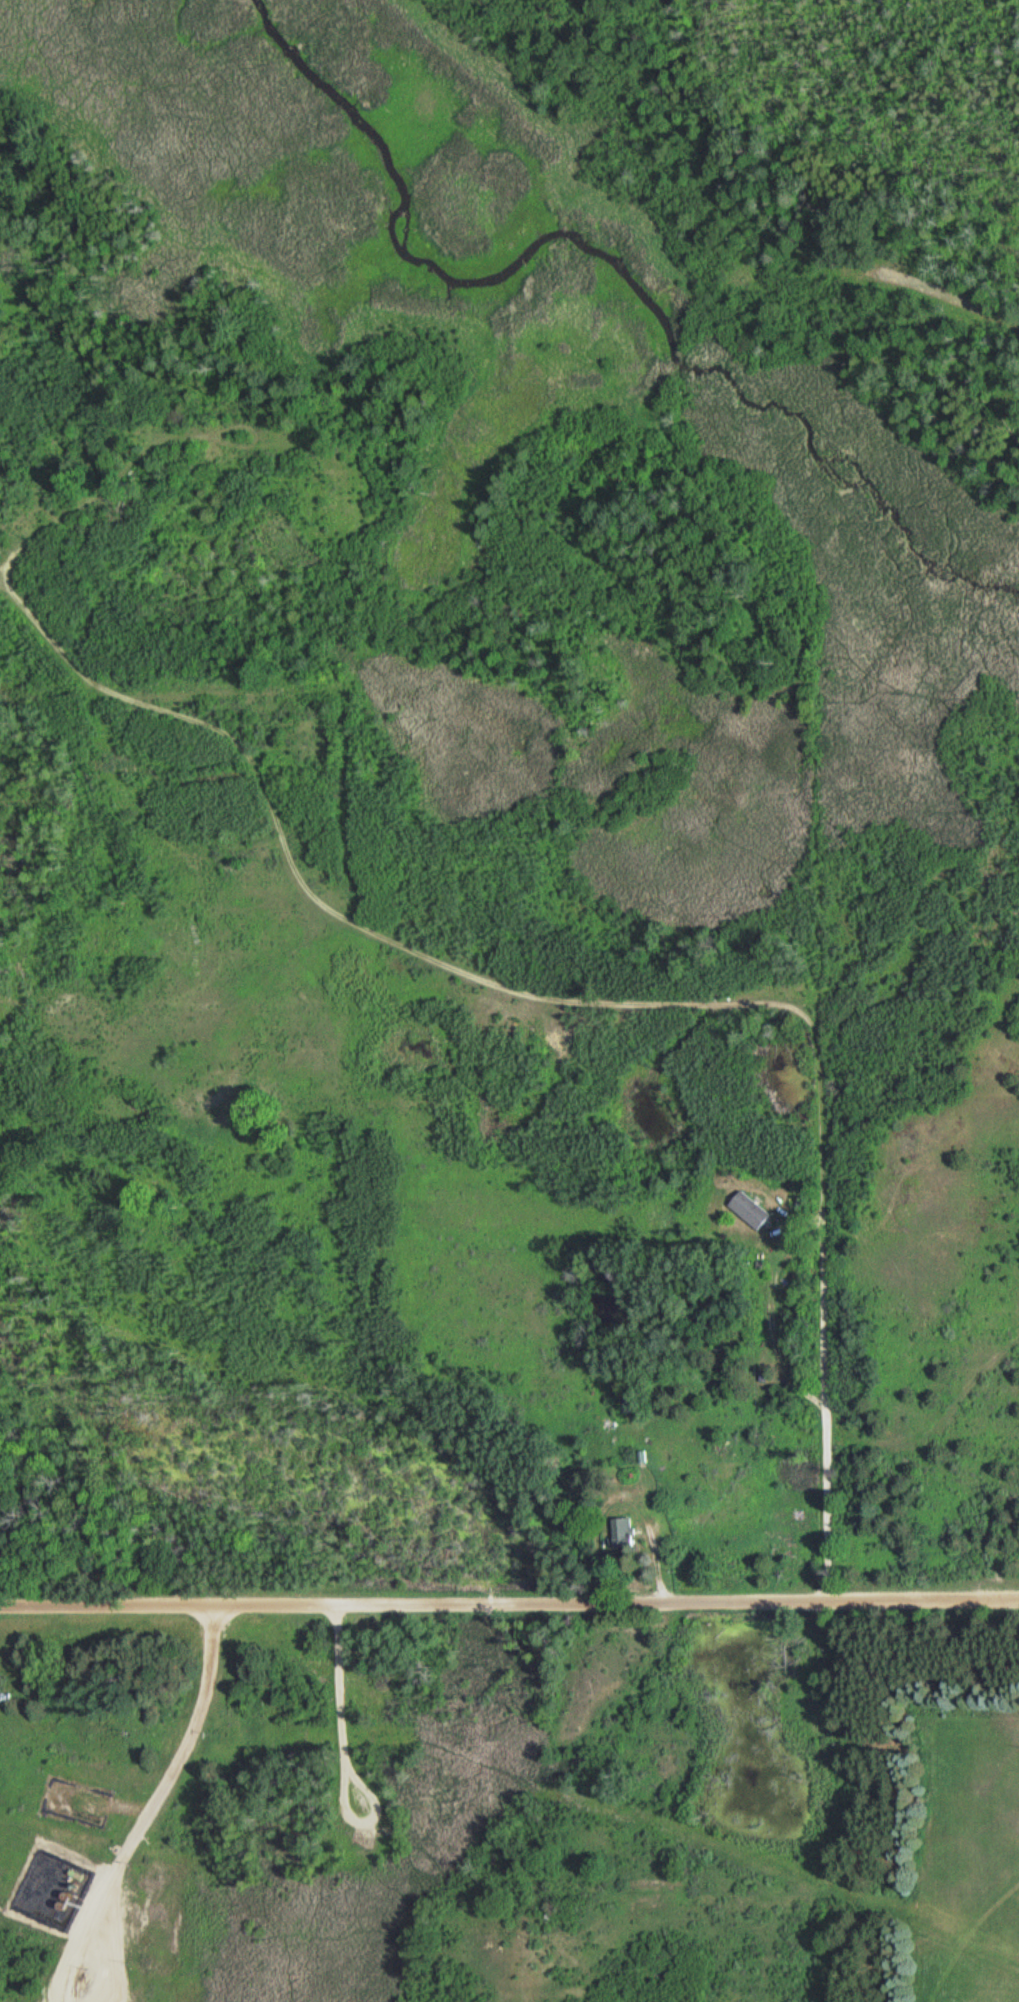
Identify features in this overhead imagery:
road: (821, 1097)
building: (748, 1209)
building: (620, 1531)
road: (509, 1603)
building: (2, 1698)

